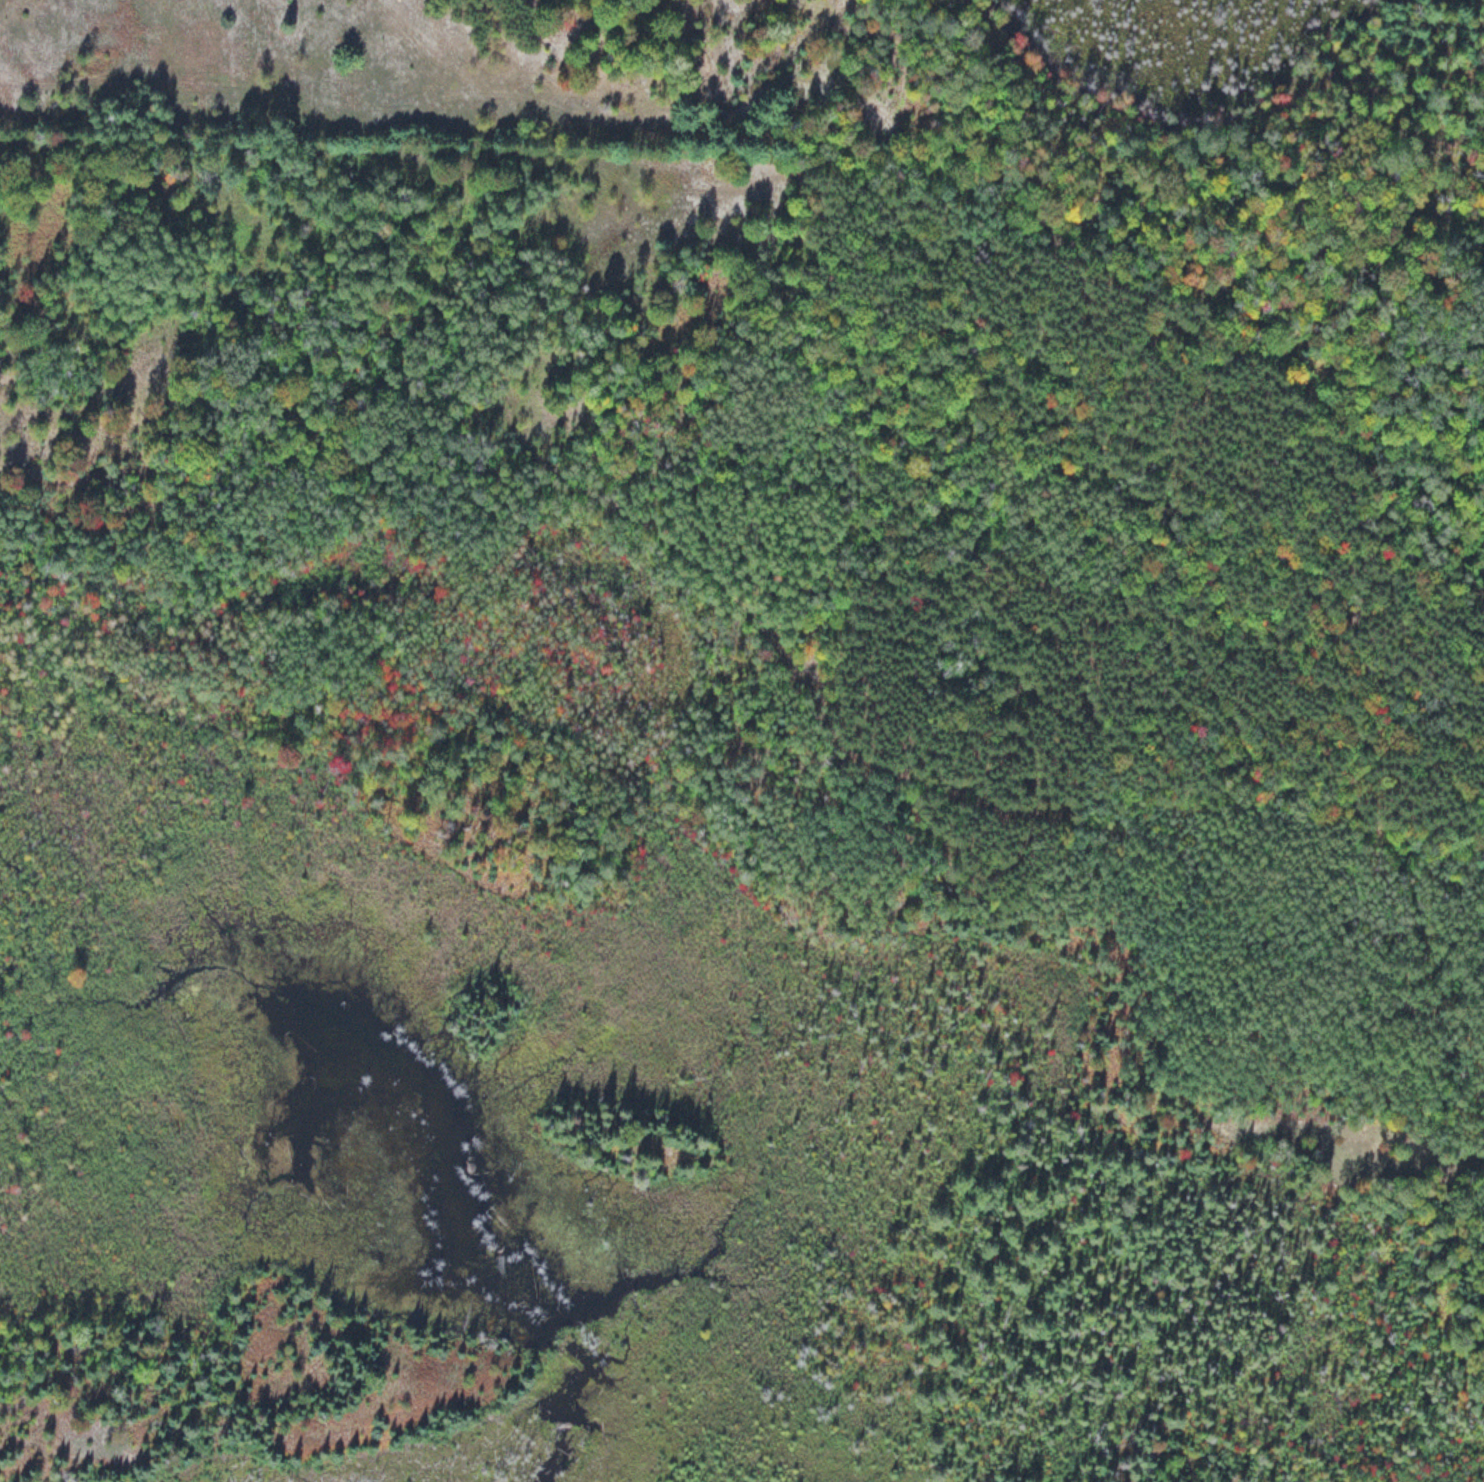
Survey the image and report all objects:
road: (968, 795)

